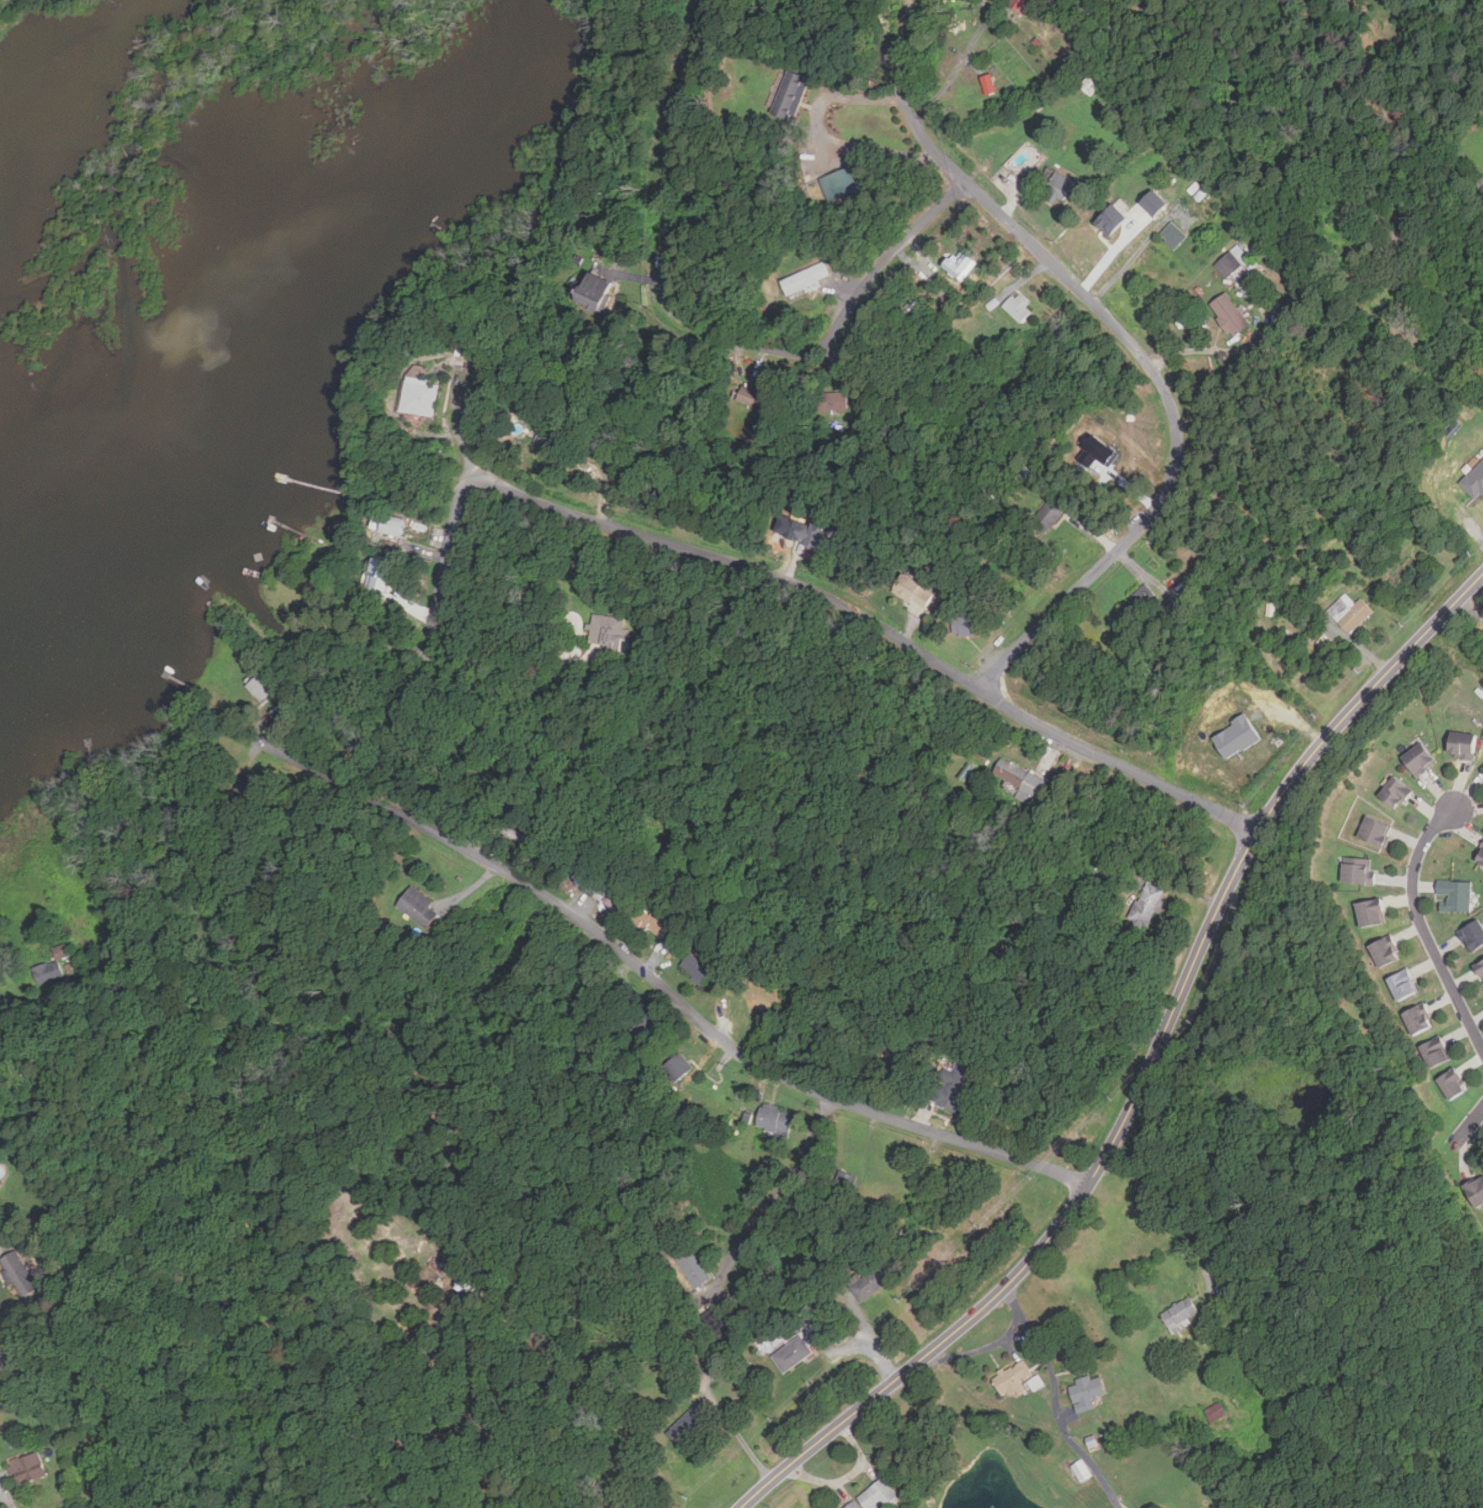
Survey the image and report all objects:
building: (1020, 5)
road: (958, 62)
building: (1091, 84)
building: (790, 94)
road: (820, 138)
building: (841, 183)
building: (1061, 186)
building: (1148, 203)
building: (1107, 219)
building: (1174, 235)
building: (1232, 261)
road: (1127, 265)
building: (953, 266)
building: (804, 281)
building: (594, 291)
building: (1381, 292)
building: (1018, 307)
building: (1229, 314)
road: (699, 332)
road: (1133, 344)
road: (1200, 350)
building: (419, 396)
building: (752, 397)
building: (831, 401)
building: (549, 438)
building: (1475, 483)
building: (1049, 514)
road: (454, 522)
building: (388, 524)
building: (813, 534)
building: (383, 569)
building: (913, 591)
building: (1140, 601)
road: (1472, 607)
building: (1350, 612)
road: (871, 623)
building: (966, 626)
building: (608, 632)
building: (261, 686)
road: (543, 699)
building: (1230, 736)
building: (1462, 745)
building: (1419, 759)
building: (1482, 769)
building: (1020, 779)
building: (1395, 793)
building: (1375, 832)
building: (1480, 858)
building: (1358, 871)
building: (598, 887)
building: (1454, 896)
building: (1147, 904)
building: (418, 905)
building: (1369, 913)
building: (648, 924)
road: (1421, 926)
building: (1473, 936)
building: (1382, 952)
building: (700, 966)
building: (1480, 969)
building: (45, 971)
road: (650, 976)
building: (1400, 985)
road: (20, 1002)
building: (1416, 1020)
building: (646, 1027)
building: (1433, 1052)
building: (678, 1065)
road: (1148, 1071)
building: (951, 1084)
building: (1451, 1084)
building: (775, 1118)
building: (739, 1120)
road: (1468, 1125)
building: (1475, 1189)
road: (778, 1191)
road: (1166, 1204)
building: (693, 1266)
building: (14, 1273)
building: (873, 1279)
building: (1179, 1314)
road: (1021, 1335)
building: (815, 1337)
road: (868, 1340)
road: (995, 1344)
building: (793, 1354)
building: (1013, 1379)
building: (1031, 1384)
building: (1088, 1390)
road: (386, 1401)
road: (1058, 1414)
building: (1217, 1415)
building: (689, 1423)
road: (742, 1440)
building: (24, 1468)
building: (1077, 1470)
building: (878, 1495)
road: (7, 1497)
building: (623, 1505)
building: (852, 1505)

